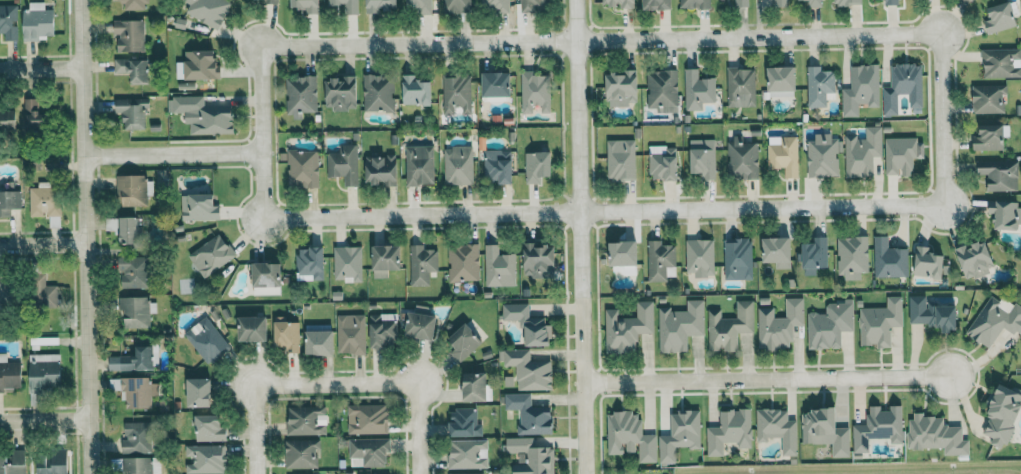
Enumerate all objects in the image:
building: (270, 1)
building: (847, 2)
building: (892, 2)
building: (619, 3)
building: (695, 3)
building: (741, 3)
building: (781, 3)
building: (815, 3)
building: (134, 4)
building: (381, 4)
building: (658, 4)
building: (308, 5)
building: (346, 5)
building: (495, 5)
building: (535, 5)
building: (419, 6)
building: (457, 6)
building: (208, 10)
building: (1000, 17)
building: (8, 21)
building: (37, 21)
building: (129, 34)
road: (801, 36)
road: (365, 45)
building: (1002, 62)
building: (201, 64)
road: (41, 66)
building: (133, 69)
building: (782, 81)
building: (497, 84)
building: (819, 85)
building: (741, 86)
building: (903, 87)
building: (622, 88)
building: (860, 88)
building: (698, 89)
building: (662, 90)
building: (416, 91)
building: (535, 91)
building: (341, 92)
building: (378, 92)
building: (457, 93)
building: (301, 95)
building: (988, 98)
building: (132, 112)
building: (34, 114)
building: (204, 115)
building: (7, 118)
building: (989, 137)
building: (863, 152)
road: (172, 153)
building: (784, 154)
building: (900, 155)
building: (823, 156)
building: (703, 157)
building: (743, 158)
building: (621, 159)
building: (663, 162)
building: (344, 164)
building: (420, 164)
building: (458, 165)
building: (498, 166)
building: (537, 166)
building: (303, 168)
building: (381, 170)
building: (1000, 174)
building: (131, 189)
building: (44, 200)
building: (9, 201)
building: (199, 207)
road: (803, 207)
building: (1004, 213)
road: (387, 216)
building: (128, 230)
road: (84, 237)
road: (580, 237)
road: (42, 242)
building: (778, 251)
building: (623, 253)
building: (212, 255)
building: (814, 255)
building: (852, 256)
building: (700, 257)
building: (975, 258)
building: (386, 259)
building: (738, 259)
building: (889, 259)
building: (539, 260)
building: (660, 261)
building: (464, 262)
building: (310, 263)
building: (348, 263)
building: (928, 263)
building: (422, 264)
building: (499, 267)
building: (134, 271)
building: (267, 278)
building: (3, 292)
building: (42, 292)
building: (136, 311)
building: (933, 313)
building: (995, 319)
building: (880, 322)
building: (420, 323)
building: (529, 324)
building: (779, 324)
building: (830, 324)
building: (680, 326)
building: (729, 326)
building: (628, 327)
building: (253, 328)
building: (382, 332)
building: (287, 334)
building: (351, 334)
building: (207, 340)
building: (463, 342)
building: (133, 360)
building: (45, 370)
building: (529, 370)
building: (10, 373)
road: (769, 380)
road: (417, 387)
building: (476, 387)
road: (254, 388)
building: (137, 391)
building: (199, 392)
building: (530, 414)
building: (1003, 414)
road: (44, 419)
building: (304, 419)
building: (367, 419)
building: (464, 423)
building: (879, 427)
building: (209, 428)
building: (778, 429)
building: (730, 431)
building: (826, 431)
building: (680, 434)
building: (936, 434)
building: (629, 436)
building: (136, 437)
building: (370, 451)
building: (302, 453)
building: (468, 453)
building: (531, 457)
building: (205, 459)
building: (13, 463)
building: (53, 463)
building: (141, 465)
building: (468, 473)

